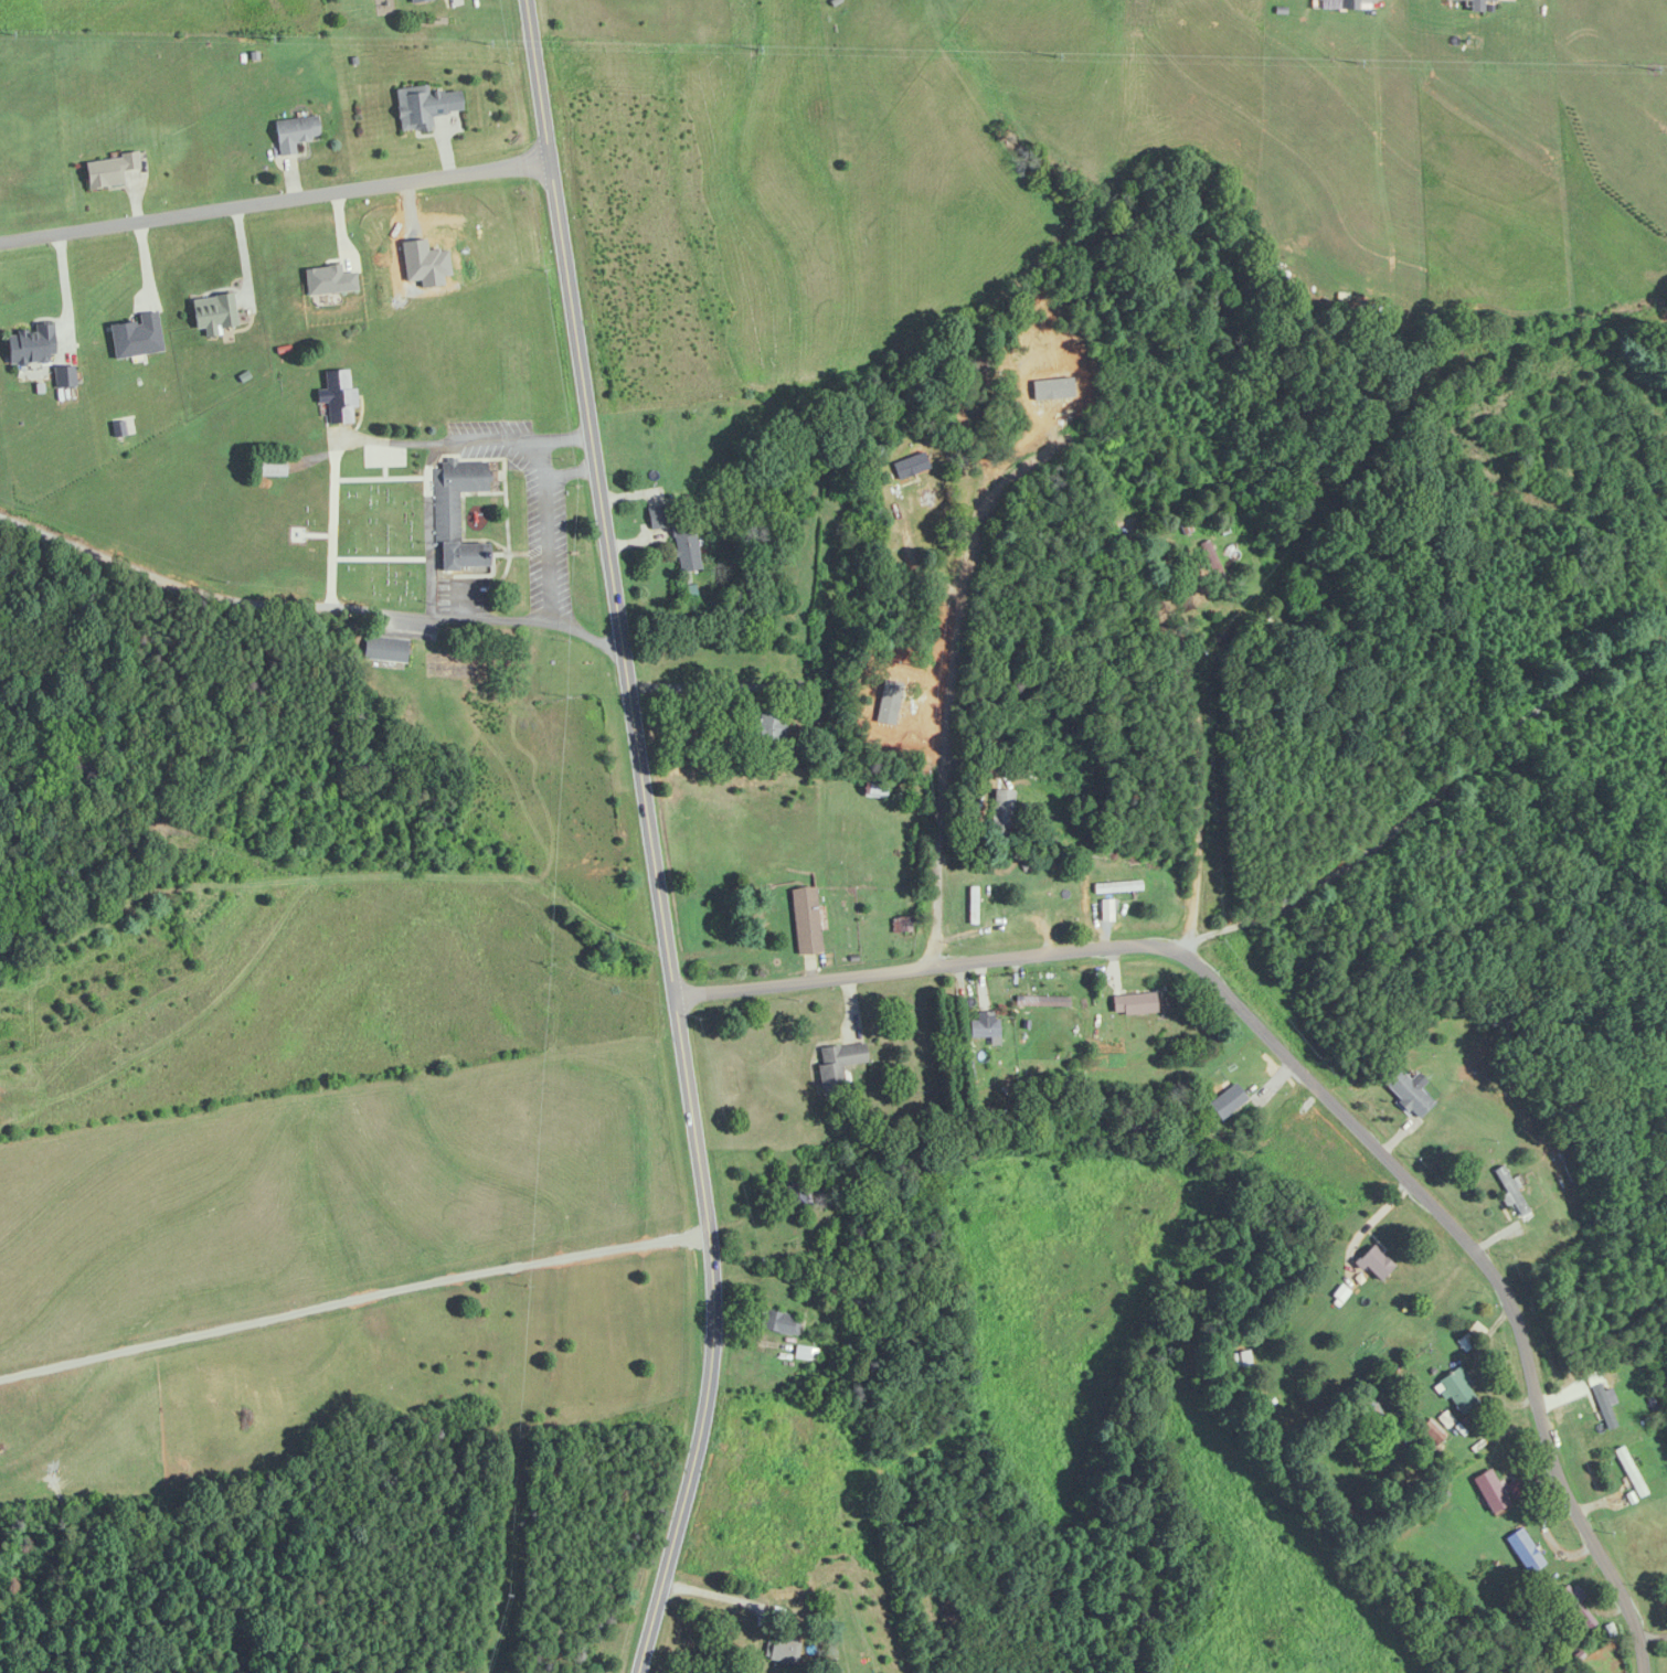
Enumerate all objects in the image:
building: (416, 0)
building: (1480, 0)
building: (1350, 4)
building: (424, 106)
building: (296, 132)
building: (109, 170)
road: (269, 198)
road: (63, 287)
building: (214, 312)
building: (32, 344)
building: (65, 376)
building: (339, 396)
road: (461, 439)
building: (912, 463)
building: (270, 468)
road: (566, 471)
building: (458, 515)
road: (332, 521)
road: (553, 530)
building: (677, 535)
road: (301, 605)
building: (385, 649)
road: (948, 664)
road: (1575, 667)
road: (742, 685)
building: (773, 726)
road: (1204, 766)
building: (86, 770)
building: (1002, 811)
road: (644, 839)
building: (1117, 887)
building: (974, 906)
building: (807, 921)
building: (902, 925)
road: (1115, 945)
building: (1134, 1004)
building: (981, 1031)
building: (838, 1065)
building: (1405, 1091)
building: (1228, 1101)
building: (1511, 1191)
building: (1376, 1262)
road: (1478, 1265)
building: (781, 1322)
building: (1243, 1358)
building: (1458, 1389)
building: (1604, 1406)
building: (1373, 1411)
building: (1631, 1472)
building: (1491, 1490)
building: (1526, 1552)
building: (1579, 1605)
building: (949, 1612)
road: (1652, 1635)
building: (783, 1650)

